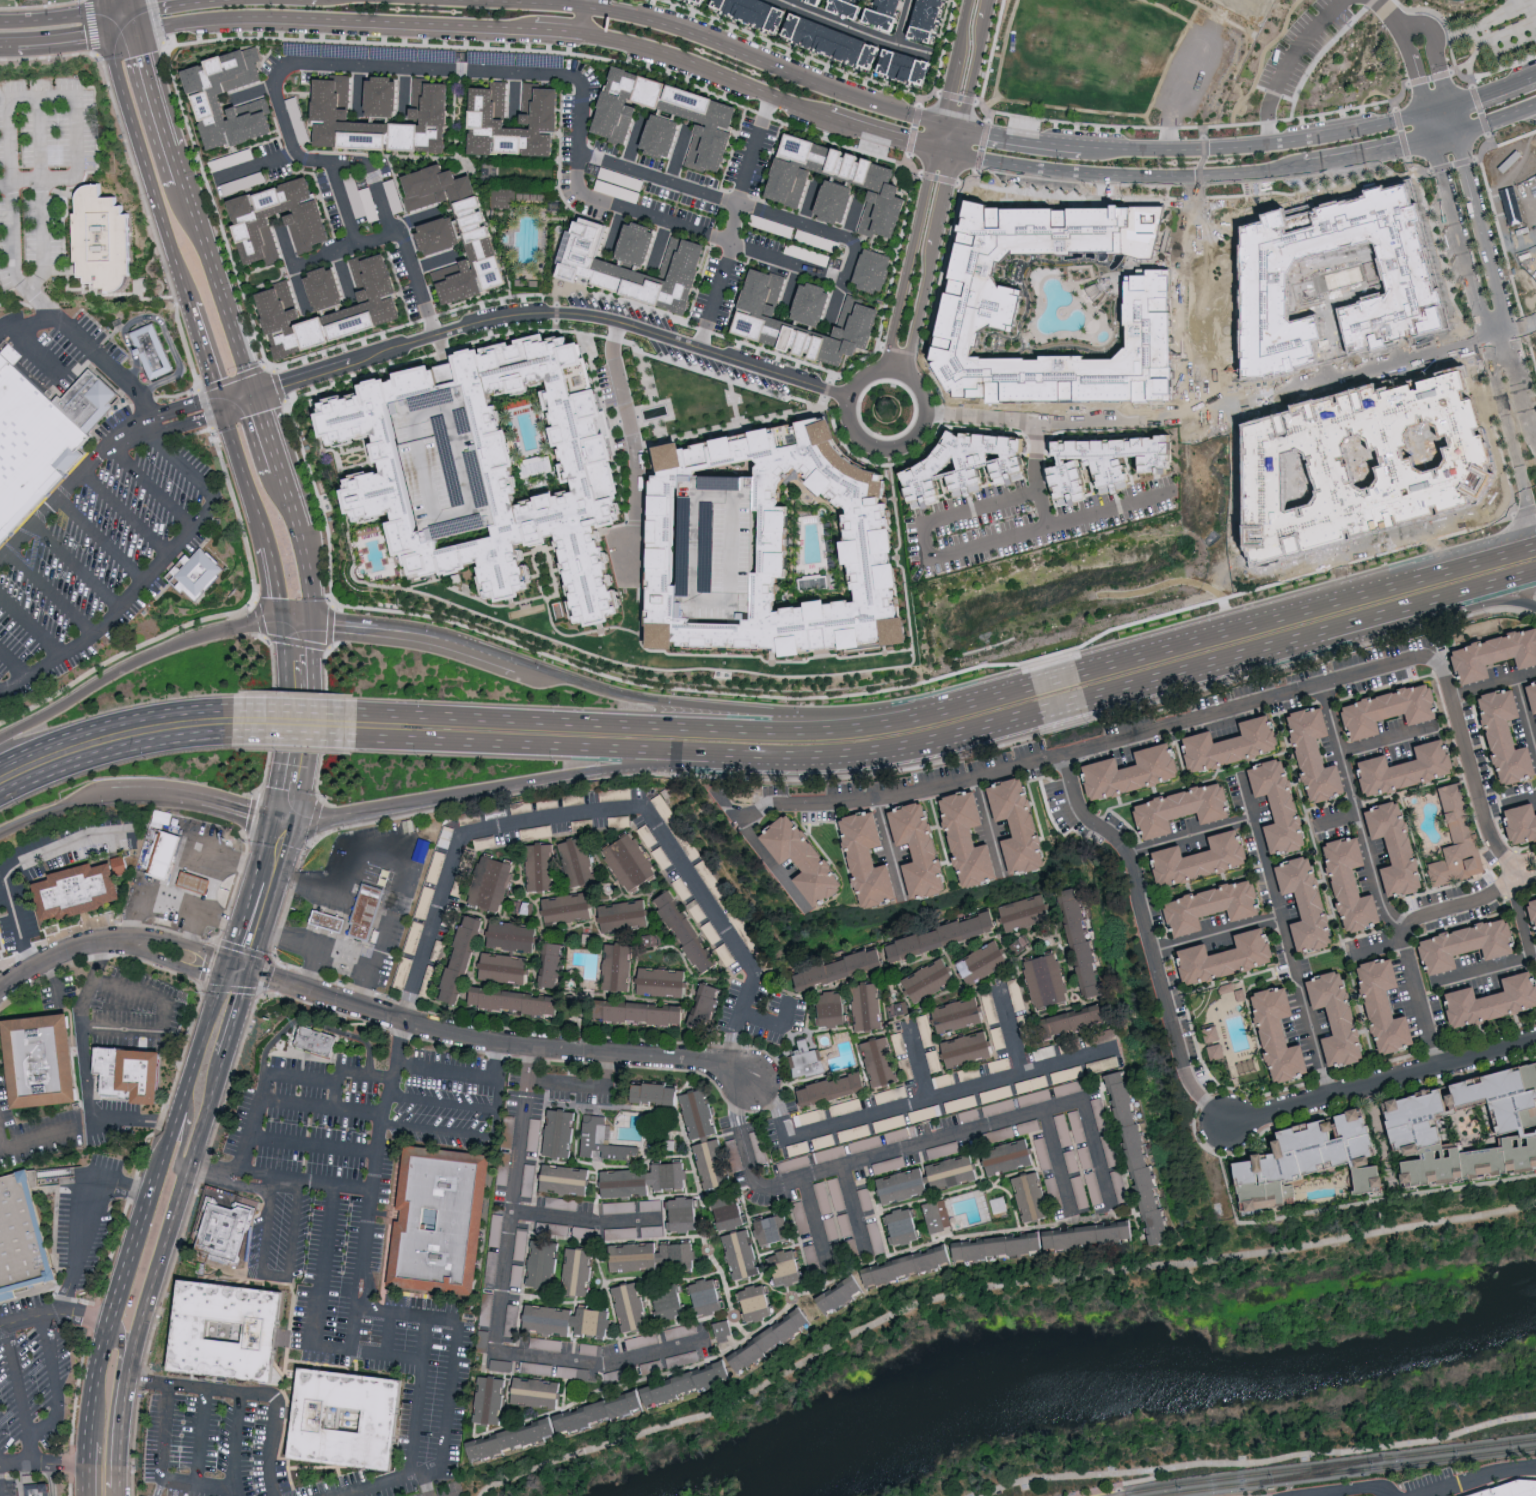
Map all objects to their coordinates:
building: (697, 1)
building: (708, 1)
building: (813, 1)
road: (137, 2)
road: (154, 2)
road: (527, 3)
road: (102, 4)
traffic signals: (138, 4)
road: (585, 4)
road: (120, 6)
building: (848, 7)
traffic signals: (102, 9)
road: (987, 9)
road: (1424, 9)
building: (750, 12)
building: (883, 14)
road: (141, 16)
road: (51, 17)
road: (1390, 18)
building: (934, 19)
road: (583, 20)
road: (322, 21)
road: (105, 22)
road: (902, 22)
road: (1487, 22)
road: (838, 23)
road: (516, 28)
traffic signals: (145, 29)
road: (982, 29)
road: (556, 30)
road: (127, 32)
traffic signals: (109, 35)
building: (830, 41)
road: (54, 44)
road: (1436, 46)
road: (914, 49)
road: (1322, 53)
park: (1375, 56)
road: (1261, 60)
road: (763, 63)
road: (954, 63)
road: (1286, 63)
road: (363, 65)
building: (902, 67)
road: (706, 68)
road: (1415, 73)
road: (970, 84)
road: (357, 87)
road: (404, 89)
road: (1493, 91)
building: (389, 94)
building: (435, 98)
building: (212, 101)
road: (166, 105)
traffic signals: (1450, 105)
road: (1438, 108)
traffic signals: (1426, 111)
road: (1323, 113)
building: (546, 114)
road: (1454, 117)
road: (1497, 118)
building: (721, 120)
road: (1040, 120)
road: (1235, 124)
road: (1429, 124)
traffic signals: (939, 127)
road: (949, 128)
traffic signals: (960, 129)
traffic signals: (1458, 130)
road: (880, 133)
road: (1445, 133)
building: (666, 134)
traffic signals: (1433, 137)
road: (935, 138)
road: (1020, 138)
road: (634, 141)
road: (957, 142)
road: (1255, 145)
traffic signals: (932, 150)
road: (943, 153)
road: (1368, 153)
road: (677, 155)
traffic signals: (954, 156)
road: (257, 164)
road: (149, 169)
road: (1128, 176)
road: (39, 178)
parking lot: (41, 178)
road: (374, 181)
building: (891, 189)
building: (842, 202)
road: (740, 203)
road: (809, 204)
road: (12, 219)
road: (655, 219)
road: (852, 220)
building: (312, 227)
building: (1026, 230)
building: (485, 231)
road: (1486, 233)
building: (445, 234)
building: (104, 239)
road: (1459, 239)
road: (306, 259)
road: (908, 259)
building: (643, 261)
road: (928, 264)
road: (807, 269)
building: (877, 269)
road: (298, 283)
road: (791, 287)
road: (224, 288)
road: (716, 297)
road: (838, 300)
road: (40, 301)
building: (819, 302)
building: (339, 305)
building: (865, 311)
road: (555, 314)
road: (1524, 330)
road: (1499, 340)
road: (41, 348)
road: (89, 348)
building: (153, 352)
road: (209, 354)
road: (1371, 368)
road: (1524, 379)
traffic signals: (260, 394)
road: (243, 399)
traffic signals: (226, 405)
road: (1149, 413)
road: (1504, 417)
road: (924, 418)
road: (1535, 422)
road: (736, 425)
road: (271, 430)
building: (41, 438)
road: (633, 447)
road: (93, 456)
building: (1117, 461)
building: (976, 465)
building: (501, 469)
road: (246, 471)
road: (1036, 481)
road: (152, 486)
road: (291, 496)
road: (126, 512)
road: (100, 541)
building: (784, 543)
road: (925, 544)
road: (1476, 548)
parking lot: (98, 550)
road: (1469, 563)
road: (76, 566)
road: (152, 573)
building: (197, 575)
road: (306, 575)
road: (272, 580)
road: (52, 592)
road: (1344, 600)
road: (1415, 607)
road: (1415, 618)
traffic signals: (279, 622)
road: (296, 623)
traffic signals: (313, 624)
road: (31, 626)
road: (288, 637)
road: (416, 637)
road: (305, 638)
road: (1180, 646)
building: (1492, 653)
road: (14, 664)
road: (132, 664)
road: (1187, 673)
road: (624, 679)
road: (1051, 682)
road: (1492, 683)
building: (1527, 696)
road: (1058, 710)
building: (1378, 710)
road: (950, 711)
road: (691, 712)
road: (1526, 712)
road: (292, 721)
road: (629, 724)
road: (373, 725)
road: (1146, 731)
road: (967, 735)
building: (1494, 736)
road: (111, 738)
road: (295, 738)
road: (1388, 740)
building: (1220, 745)
road: (545, 746)
building: (1534, 748)
building: (1303, 755)
road: (801, 759)
building: (1395, 769)
building: (1129, 771)
road: (493, 789)
building: (615, 793)
road: (147, 794)
road: (1520, 799)
building: (1267, 806)
road: (603, 808)
building: (1170, 809)
road: (54, 810)
road: (233, 810)
road: (1337, 822)
traffic signals: (285, 823)
building: (1515, 823)
building: (1025, 825)
road: (1190, 835)
building: (976, 839)
building: (1451, 839)
road: (262, 840)
road: (396, 846)
road: (292, 848)
building: (1383, 848)
building: (422, 849)
building: (927, 850)
building: (166, 854)
road: (210, 854)
building: (809, 858)
building: (1188, 859)
road: (22, 860)
building: (876, 860)
building: (581, 861)
building: (633, 862)
road: (1526, 862)
building: (544, 866)
road: (252, 873)
road: (1376, 877)
road: (1527, 877)
building: (197, 882)
road: (314, 883)
building: (494, 883)
building: (1339, 885)
road: (163, 895)
building: (80, 896)
building: (1294, 904)
building: (528, 907)
building: (1199, 907)
building: (571, 908)
road: (1434, 911)
building: (1027, 912)
building: (1528, 914)
building: (628, 915)
building: (359, 921)
road: (1520, 921)
road: (234, 923)
road: (268, 925)
building: (688, 929)
road: (194, 932)
road: (1218, 935)
building: (517, 936)
building: (945, 936)
road: (1148, 937)
road: (1288, 937)
building: (1, 940)
building: (1084, 944)
road: (320, 945)
building: (1455, 945)
building: (1213, 958)
building: (1, 959)
building: (464, 959)
building: (985, 962)
building: (556, 964)
building: (1535, 966)
building: (621, 967)
traffic signals: (221, 968)
building: (507, 968)
building: (840, 968)
road: (1490, 971)
traffic signals: (252, 976)
road: (263, 979)
building: (931, 980)
building: (430, 981)
building: (665, 981)
building: (1049, 981)
building: (520, 1000)
building: (1483, 1001)
building: (708, 1006)
building: (870, 1006)
building: (989, 1007)
building: (1373, 1007)
building: (836, 1008)
building: (898, 1008)
building: (652, 1013)
building: (961, 1014)
road: (177, 1016)
road: (239, 1016)
building: (1080, 1020)
building: (1326, 1020)
building: (1310, 1022)
road: (315, 1025)
road: (775, 1025)
building: (926, 1030)
road: (1012, 1030)
building: (1281, 1032)
building: (1205, 1034)
road: (84, 1035)
building: (1267, 1035)
building: (1034, 1039)
building: (315, 1041)
building: (900, 1042)
building: (970, 1048)
building: (1210, 1051)
road: (644, 1056)
road: (917, 1058)
building: (809, 1060)
building: (934, 1060)
building: (883, 1061)
building: (1102, 1063)
building: (1000, 1064)
building: (46, 1067)
road: (531, 1069)
road: (462, 1071)
road: (186, 1073)
road: (282, 1075)
building: (134, 1079)
road: (1383, 1082)
road: (585, 1084)
building: (837, 1088)
road: (338, 1097)
road: (442, 1101)
road: (913, 1102)
building: (961, 1102)
road: (496, 1106)
road: (322, 1108)
building: (1101, 1112)
building: (701, 1113)
building: (812, 1116)
road: (132, 1122)
building: (1029, 1125)
building: (1509, 1127)
road: (437, 1131)
road: (184, 1132)
building: (853, 1132)
building: (562, 1133)
road: (4, 1134)
building: (823, 1140)
road: (37, 1141)
building: (605, 1141)
road: (314, 1146)
building: (1110, 1149)
road: (1096, 1151)
building: (831, 1152)
building: (1043, 1152)
building: (1011, 1155)
building: (797, 1156)
building: (1141, 1156)
building: (1299, 1157)
road: (1058, 1160)
road: (867, 1161)
building: (714, 1163)
building: (957, 1169)
building: (569, 1178)
building: (645, 1179)
building: (1355, 1179)
building: (907, 1183)
building: (1053, 1186)
road: (366, 1190)
building: (1034, 1195)
building: (866, 1197)
building: (1000, 1203)
road: (1336, 1203)
building: (651, 1204)
building: (614, 1206)
road: (854, 1209)
building: (731, 1210)
road: (177, 1211)
building: (686, 1212)
building: (939, 1214)
building: (439, 1216)
parking lot: (364, 1217)
road: (587, 1220)
road: (514, 1221)
road: (815, 1221)
road: (85, 1222)
building: (838, 1225)
building: (905, 1225)
building: (224, 1227)
building: (777, 1227)
building: (653, 1229)
building: (20, 1241)
building: (1009, 1247)
building: (744, 1253)
building: (655, 1255)
building: (813, 1258)
building: (545, 1263)
building: (492, 1266)
building: (787, 1266)
building: (580, 1269)
road: (274, 1277)
road: (982, 1285)
building: (843, 1293)
building: (709, 1295)
road: (355, 1299)
building: (760, 1301)
building: (671, 1303)
road: (112, 1308)
building: (487, 1308)
road: (53, 1315)
building: (572, 1319)
road: (314, 1321)
building: (725, 1327)
road: (352, 1328)
building: (682, 1330)
road: (388, 1333)
building: (190, 1335)
building: (643, 1339)
road: (122, 1343)
building: (692, 1356)
building: (502, 1364)
road: (602, 1364)
river: (1118, 1368)
parking lot: (30, 1378)
road: (19, 1381)
building: (663, 1387)
building: (540, 1391)
road: (251, 1395)
road: (57, 1396)
road: (418, 1397)
building: (493, 1399)
road: (449, 1402)
building: (380, 1418)
road: (122, 1427)
road: (164, 1432)
road: (203, 1437)
road: (238, 1445)
parking lot: (212, 1448)
road: (43, 1462)
road: (1261, 1463)
railway: (1321, 1465)
road: (85, 1468)
railway: (1319, 1471)
railway: (1346, 1471)
road: (1480, 1478)
road: (50, 1479)
road: (399, 1481)
road: (198, 1482)
parking lot: (363, 1484)
railway: (1093, 1487)
parking lot: (1391, 1487)
building: (36, 1489)
building: (1510, 1489)
parking lot: (437, 1490)
road: (1102, 1490)
road: (119, 1491)
road: (1362, 1492)

